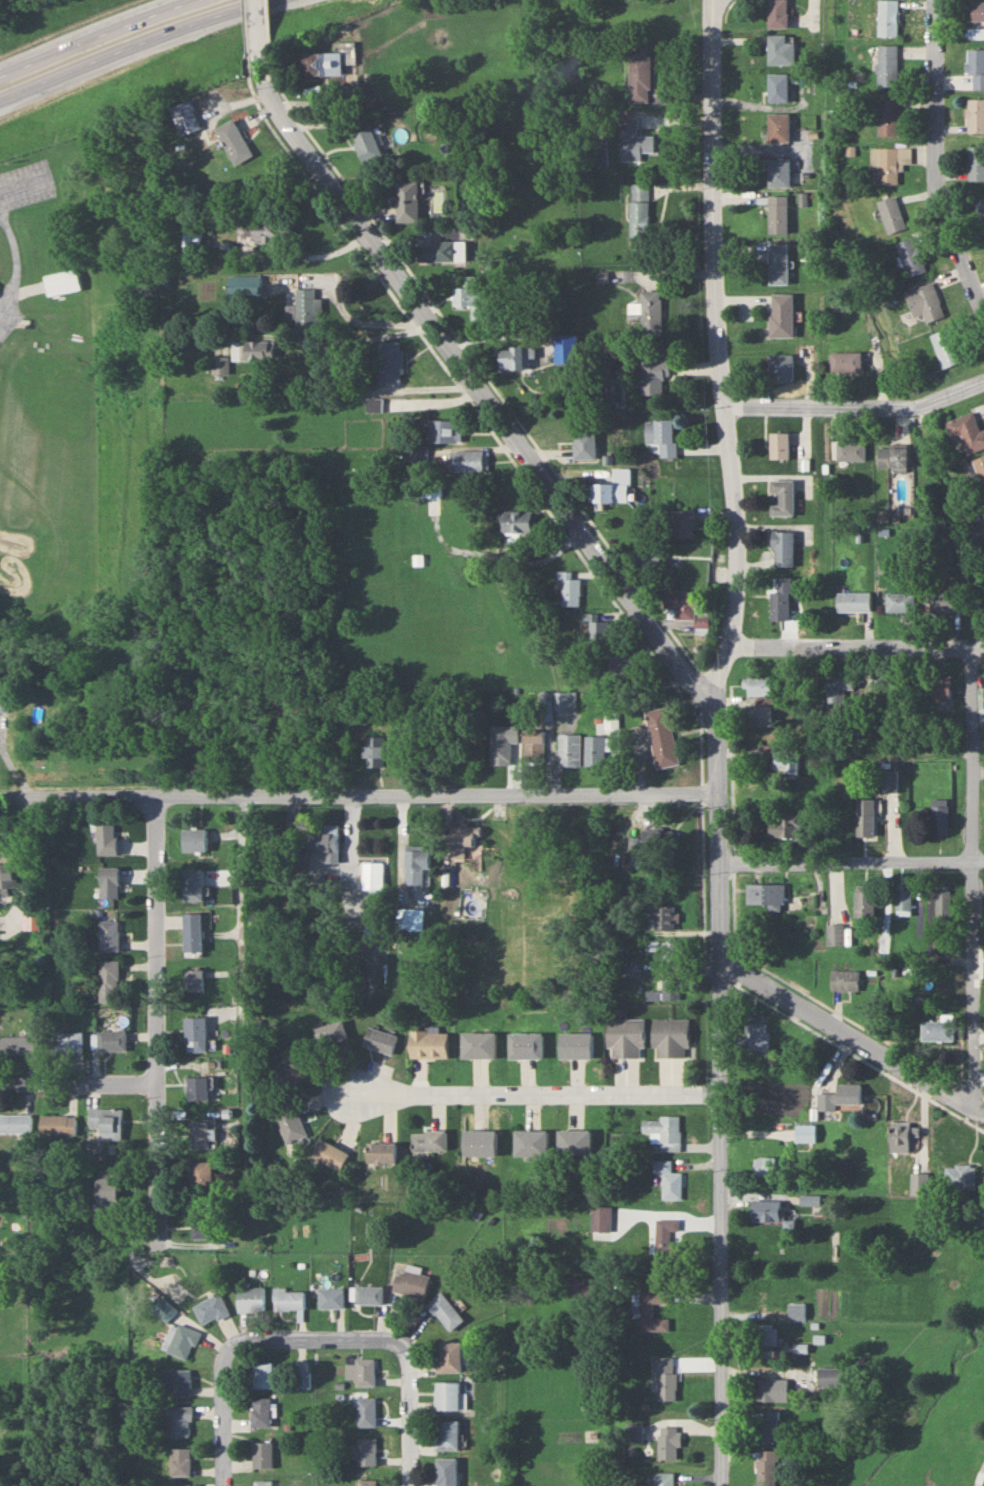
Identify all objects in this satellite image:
building: (977, 10)
building: (777, 13)
building: (888, 17)
road: (256, 24)
building: (976, 32)
road: (94, 36)
road: (129, 44)
building: (781, 50)
building: (348, 52)
building: (322, 64)
building: (888, 66)
building: (975, 66)
building: (640, 73)
building: (779, 87)
building: (975, 115)
building: (889, 117)
building: (779, 127)
building: (634, 141)
building: (233, 142)
building: (367, 144)
road: (940, 159)
building: (975, 163)
building: (884, 166)
building: (780, 172)
road: (26, 181)
building: (407, 200)
building: (981, 208)
building: (779, 214)
building: (892, 214)
building: (640, 218)
building: (261, 227)
building: (191, 238)
building: (444, 252)
building: (911, 256)
road: (17, 259)
building: (779, 263)
building: (61, 282)
building: (244, 285)
building: (470, 297)
building: (925, 301)
building: (308, 307)
building: (652, 313)
building: (782, 315)
road: (336, 340)
building: (566, 346)
building: (945, 347)
building: (253, 350)
building: (516, 357)
building: (390, 361)
building: (846, 361)
building: (220, 365)
building: (782, 367)
building: (654, 376)
road: (472, 381)
road: (858, 400)
building: (372, 404)
building: (444, 431)
building: (968, 431)
building: (662, 436)
building: (585, 445)
building: (780, 446)
building: (851, 450)
building: (416, 455)
building: (895, 457)
building: (470, 460)
building: (981, 466)
building: (613, 488)
building: (784, 497)
building: (517, 521)
building: (682, 524)
building: (784, 548)
building: (647, 557)
building: (571, 589)
building: (783, 600)
building: (946, 601)
building: (854, 602)
building: (901, 602)
building: (687, 608)
building: (598, 631)
road: (858, 644)
building: (620, 663)
building: (759, 687)
building: (942, 687)
building: (838, 689)
building: (565, 701)
building: (4, 704)
building: (546, 705)
building: (759, 716)
building: (662, 738)
road: (716, 740)
building: (534, 747)
building: (504, 748)
building: (570, 750)
building: (373, 751)
building: (595, 751)
building: (787, 763)
building: (887, 781)
road: (358, 793)
building: (939, 816)
building: (866, 818)
building: (786, 826)
building: (464, 835)
building: (106, 840)
building: (193, 840)
building: (660, 840)
building: (327, 845)
road: (851, 859)
building: (416, 865)
road: (973, 871)
building: (372, 876)
building: (7, 878)
building: (107, 882)
building: (192, 885)
building: (767, 895)
building: (865, 901)
building: (903, 902)
building: (943, 905)
building: (663, 917)
building: (406, 919)
building: (30, 920)
building: (192, 932)
building: (836, 934)
building: (107, 936)
road: (247, 937)
building: (882, 945)
building: (666, 950)
building: (632, 969)
building: (845, 980)
building: (193, 981)
building: (107, 982)
building: (666, 991)
road: (154, 1018)
road: (843, 1028)
building: (937, 1030)
building: (332, 1034)
building: (198, 1035)
building: (754, 1037)
building: (625, 1038)
building: (670, 1038)
building: (380, 1040)
building: (110, 1041)
building: (68, 1042)
building: (17, 1044)
building: (428, 1044)
building: (478, 1045)
building: (575, 1045)
building: (525, 1046)
building: (292, 1070)
road: (77, 1083)
building: (197, 1088)
road: (536, 1092)
building: (839, 1097)
building: (107, 1121)
building: (288, 1121)
building: (15, 1122)
building: (58, 1123)
building: (663, 1130)
building: (804, 1132)
building: (200, 1133)
building: (900, 1134)
building: (428, 1139)
building: (479, 1141)
building: (574, 1141)
building: (530, 1142)
building: (380, 1151)
building: (329, 1153)
building: (772, 1165)
building: (960, 1175)
building: (201, 1178)
building: (668, 1178)
building: (107, 1190)
building: (811, 1198)
building: (767, 1209)
building: (981, 1215)
building: (600, 1217)
building: (202, 1222)
building: (666, 1235)
building: (412, 1281)
building: (580, 1287)
building: (368, 1294)
building: (331, 1297)
building: (249, 1298)
building: (288, 1299)
building: (209, 1309)
building: (650, 1310)
building: (445, 1311)
building: (764, 1334)
road: (307, 1336)
building: (179, 1340)
building: (449, 1356)
building: (363, 1371)
building: (261, 1374)
building: (664, 1376)
building: (834, 1376)
building: (303, 1380)
building: (176, 1381)
building: (772, 1390)
building: (447, 1394)
road: (408, 1406)
building: (366, 1411)
road: (223, 1412)
building: (260, 1412)
building: (178, 1420)
park: (918, 1420)
building: (767, 1425)
building: (447, 1434)
building: (666, 1442)
building: (364, 1451)
building: (261, 1454)
building: (179, 1460)
building: (766, 1467)
building: (447, 1471)
building: (664, 1478)
road: (981, 1479)
building: (262, 1482)
building: (366, 1482)
building: (181, 1484)

